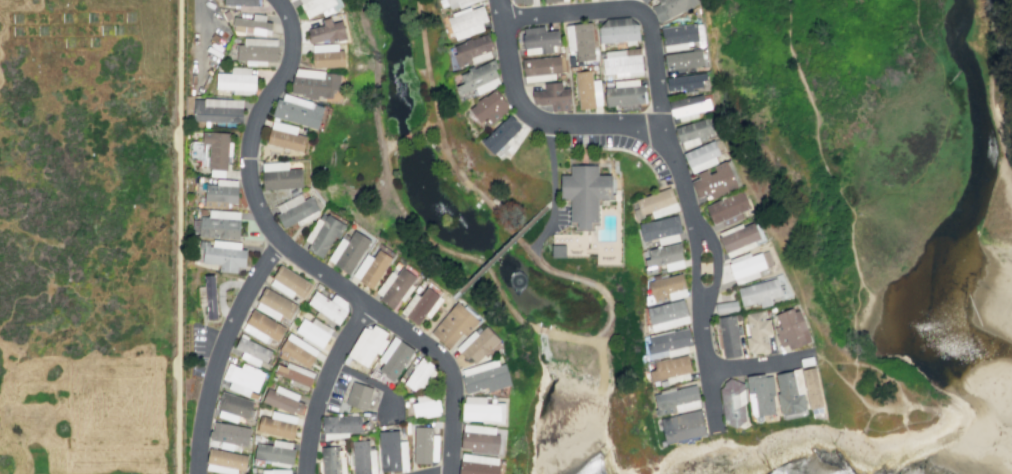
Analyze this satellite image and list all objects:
building: (643, 0)
building: (520, 1)
building: (553, 1)
building: (241, 2)
building: (455, 3)
building: (319, 6)
road: (632, 8)
building: (670, 8)
road: (203, 18)
building: (466, 21)
building: (252, 25)
building: (618, 30)
building: (326, 31)
building: (680, 36)
building: (538, 39)
building: (579, 40)
parking lot: (201, 42)
building: (257, 50)
building: (472, 50)
building: (326, 55)
building: (682, 59)
building: (621, 63)
building: (540, 68)
building: (478, 77)
building: (236, 79)
building: (685, 81)
building: (314, 83)
building: (587, 90)
building: (624, 92)
building: (552, 96)
building: (687, 106)
building: (489, 107)
building: (217, 109)
building: (298, 110)
road: (254, 119)
road: (584, 127)
building: (693, 132)
building: (500, 134)
building: (285, 136)
road: (409, 138)
building: (216, 149)
building: (701, 156)
parking lot: (651, 157)
building: (280, 175)
building: (713, 180)
road: (553, 191)
building: (584, 191)
building: (221, 192)
park: (882, 201)
road: (549, 202)
building: (657, 202)
building: (727, 208)
building: (296, 210)
parking lot: (560, 216)
building: (220, 224)
building: (660, 230)
building: (322, 233)
road: (177, 236)
building: (738, 238)
building: (558, 250)
building: (347, 251)
road: (498, 251)
building: (225, 255)
building: (663, 256)
building: (745, 266)
building: (371, 268)
road: (715, 268)
road: (694, 270)
building: (288, 282)
building: (395, 287)
building: (666, 288)
road: (220, 290)
building: (759, 292)
building: (210, 296)
building: (274, 304)
building: (424, 305)
building: (725, 306)
building: (327, 307)
building: (666, 314)
road: (435, 318)
building: (454, 324)
road: (874, 325)
building: (262, 326)
building: (790, 328)
building: (313, 332)
building: (757, 332)
road: (411, 333)
building: (729, 335)
road: (581, 340)
building: (476, 343)
building: (669, 343)
building: (367, 345)
parking lot: (199, 346)
building: (251, 350)
building: (296, 350)
road: (222, 351)
building: (394, 357)
road: (755, 363)
road: (601, 368)
building: (670, 369)
road: (707, 372)
building: (295, 374)
building: (419, 375)
road: (856, 375)
building: (484, 376)
road: (545, 376)
building: (242, 378)
road: (897, 383)
road: (325, 385)
building: (812, 389)
parking lot: (335, 391)
building: (790, 391)
building: (760, 394)
building: (358, 395)
building: (282, 399)
building: (676, 399)
building: (732, 402)
road: (865, 403)
building: (425, 404)
parking lot: (388, 406)
building: (233, 407)
building: (482, 410)
road: (868, 417)
road: (927, 418)
building: (340, 423)
building: (277, 424)
building: (682, 425)
building: (228, 435)
building: (479, 438)
building: (424, 445)
building: (391, 450)
building: (273, 453)
building: (363, 457)
building: (332, 460)
building: (224, 461)
building: (478, 464)
building: (275, 471)

